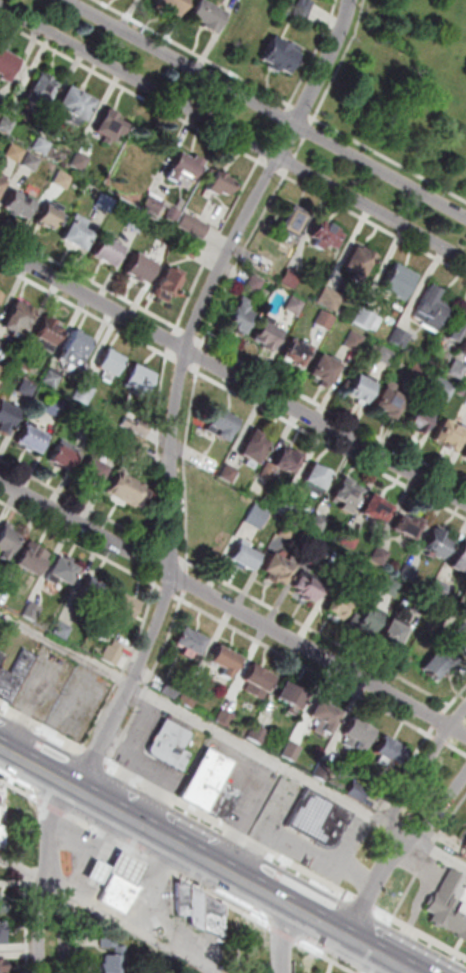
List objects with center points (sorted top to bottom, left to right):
building: (173, 5)
building: (306, 7)
building: (207, 17)
road: (318, 53)
building: (281, 57)
road: (208, 59)
building: (8, 67)
park: (408, 88)
road: (131, 89)
building: (42, 95)
building: (77, 106)
road: (267, 109)
building: (1, 112)
building: (7, 125)
building: (111, 127)
road: (333, 129)
road: (234, 130)
road: (277, 132)
building: (16, 153)
building: (81, 162)
building: (33, 163)
building: (186, 169)
building: (64, 180)
building: (2, 184)
building: (221, 186)
building: (108, 205)
building: (21, 207)
building: (162, 210)
building: (53, 218)
building: (290, 218)
road: (363, 218)
building: (137, 222)
building: (194, 226)
building: (323, 234)
building: (79, 236)
building: (167, 236)
road: (251, 243)
building: (186, 247)
building: (109, 254)
building: (264, 261)
building: (357, 262)
building: (141, 271)
building: (291, 274)
building: (254, 279)
building: (399, 280)
building: (168, 287)
building: (0, 294)
building: (331, 295)
building: (2, 301)
building: (294, 301)
building: (429, 306)
building: (364, 315)
building: (325, 316)
building: (237, 318)
building: (20, 320)
road: (170, 324)
building: (458, 327)
building: (49, 333)
building: (265, 335)
building: (396, 336)
building: (353, 337)
building: (1, 344)
building: (294, 350)
building: (75, 352)
building: (382, 354)
building: (111, 360)
building: (25, 363)
building: (455, 367)
building: (321, 368)
building: (415, 370)
building: (3, 374)
building: (140, 376)
road: (232, 377)
building: (53, 379)
road: (180, 385)
building: (357, 387)
building: (439, 387)
building: (28, 390)
road: (293, 391)
building: (85, 394)
building: (386, 400)
building: (57, 407)
building: (419, 418)
building: (7, 419)
building: (87, 420)
building: (218, 423)
building: (446, 434)
building: (34, 441)
road: (161, 444)
building: (115, 445)
building: (251, 445)
building: (135, 451)
building: (463, 452)
building: (284, 458)
building: (64, 460)
building: (205, 461)
building: (94, 473)
building: (226, 474)
building: (315, 474)
road: (188, 476)
building: (128, 492)
building: (344, 493)
building: (287, 501)
building: (374, 507)
building: (257, 512)
building: (319, 518)
building: (406, 524)
building: (288, 527)
building: (351, 536)
building: (318, 542)
building: (434, 542)
building: (8, 547)
building: (380, 551)
building: (242, 554)
building: (459, 557)
building: (350, 559)
building: (34, 562)
road: (115, 562)
building: (275, 566)
building: (409, 568)
building: (64, 574)
road: (189, 582)
building: (391, 583)
building: (439, 583)
building: (308, 587)
building: (92, 594)
building: (341, 603)
road: (233, 605)
building: (127, 610)
building: (33, 613)
building: (370, 617)
road: (218, 619)
building: (63, 631)
building: (394, 633)
building: (456, 635)
road: (169, 642)
building: (191, 645)
building: (0, 653)
building: (114, 654)
building: (437, 664)
building: (226, 665)
building: (13, 675)
building: (259, 683)
building: (172, 690)
building: (190, 700)
building: (293, 700)
road: (454, 708)
building: (226, 718)
road: (441, 720)
building: (326, 721)
road: (42, 725)
building: (260, 736)
building: (358, 738)
road: (232, 740)
road: (443, 741)
building: (169, 743)
road: (457, 748)
building: (292, 753)
building: (391, 753)
road: (95, 754)
building: (323, 771)
road: (421, 774)
building: (202, 777)
road: (20, 787)
building: (359, 792)
building: (220, 799)
road: (54, 806)
road: (385, 806)
road: (437, 816)
building: (316, 817)
road: (230, 828)
road: (51, 830)
building: (3, 839)
building: (465, 846)
road: (83, 848)
road: (102, 856)
road: (208, 858)
road: (428, 858)
road: (26, 868)
road: (170, 870)
building: (127, 872)
road: (127, 872)
road: (146, 881)
road: (152, 885)
road: (373, 889)
building: (122, 891)
building: (184, 899)
building: (450, 902)
building: (3, 903)
road: (364, 903)
building: (197, 909)
building: (214, 916)
road: (29, 922)
road: (42, 924)
road: (67, 924)
road: (140, 931)
road: (286, 933)
road: (420, 933)
building: (2, 935)
road: (78, 935)
road: (285, 938)
road: (241, 941)
road: (329, 956)
building: (117, 961)
road: (331, 965)
building: (3, 966)

